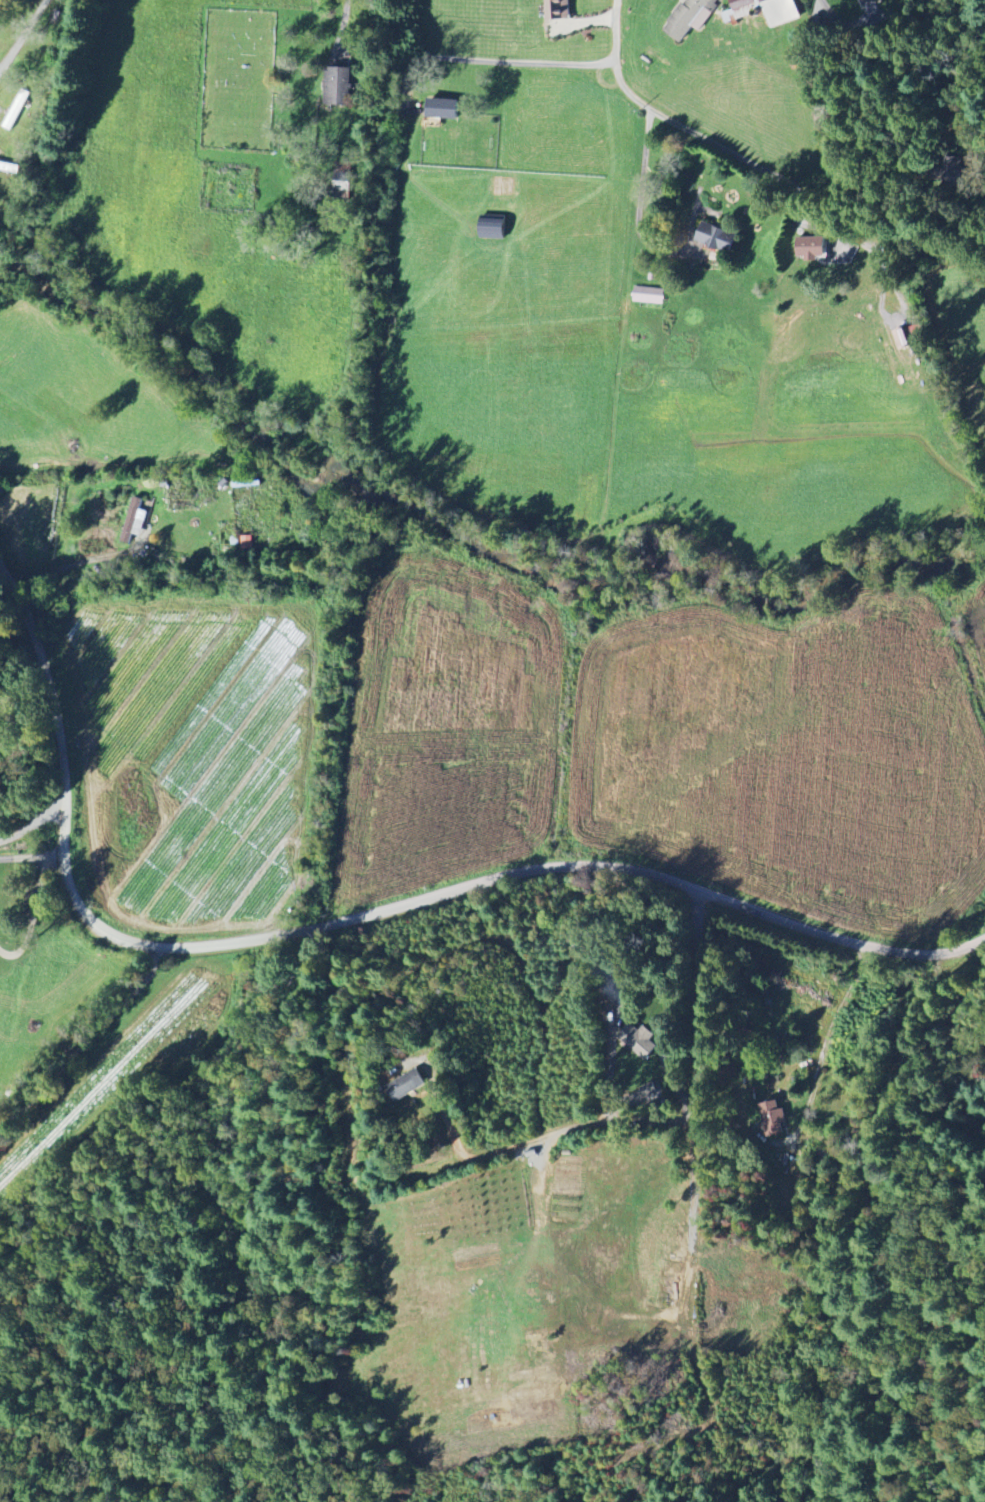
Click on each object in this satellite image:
building: (868, 2)
building: (556, 10)
building: (781, 13)
building: (690, 18)
road: (343, 19)
road: (23, 35)
road: (502, 59)
road: (905, 61)
building: (337, 88)
building: (442, 110)
road: (670, 117)
road: (641, 198)
building: (492, 229)
building: (715, 239)
building: (810, 249)
building: (648, 296)
building: (901, 340)
building: (133, 522)
building: (246, 543)
road: (81, 561)
road: (34, 831)
road: (34, 906)
road: (346, 918)
building: (615, 983)
road: (943, 1007)
building: (638, 1041)
building: (404, 1087)
building: (773, 1119)
road: (645, 1121)

